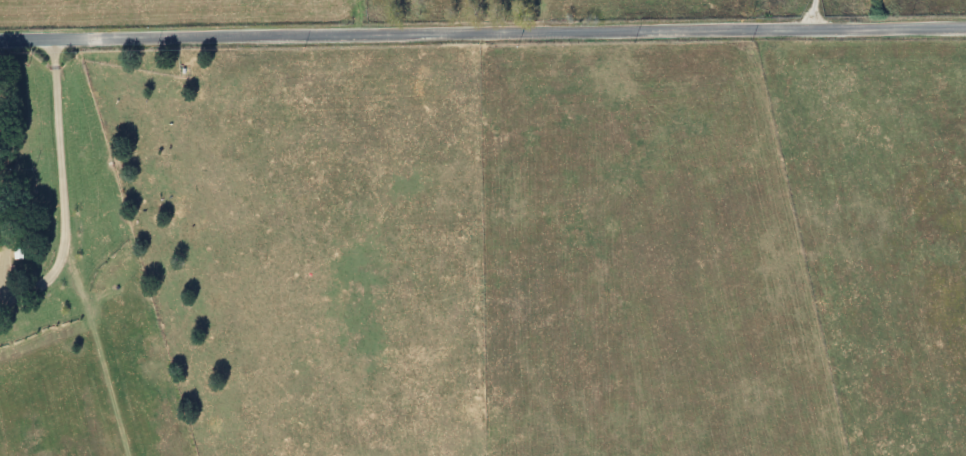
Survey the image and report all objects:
road: (814, 14)
road: (482, 31)
road: (60, 181)
building: (15, 253)

